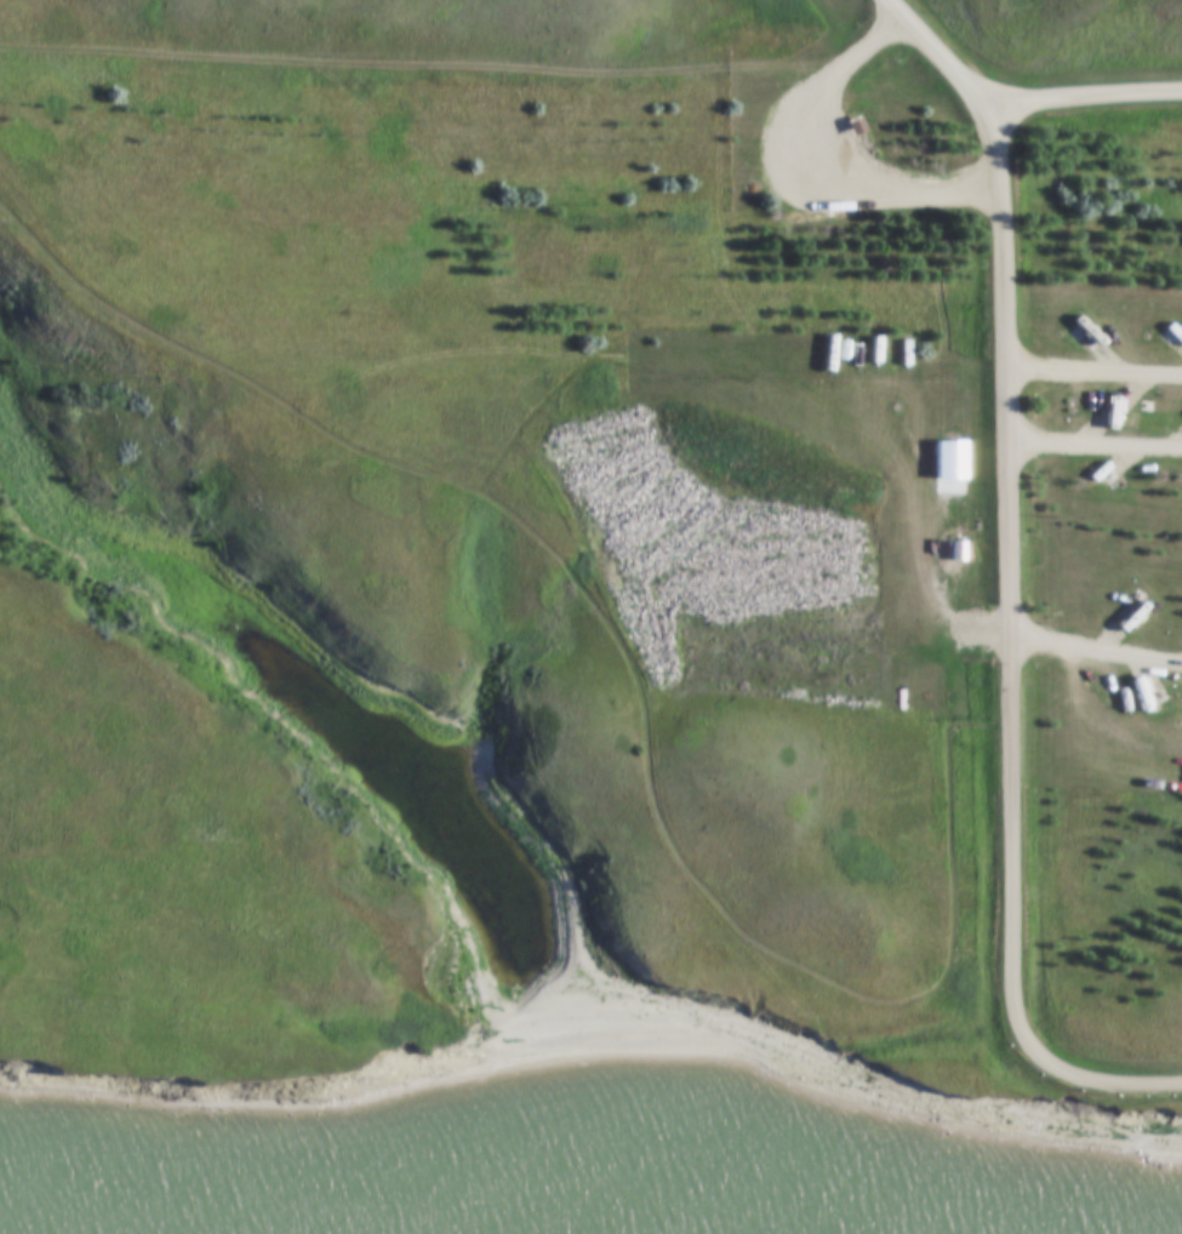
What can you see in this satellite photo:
road: (421, 65)
road: (1012, 113)
road: (827, 166)
building: (1094, 343)
road: (1095, 376)
building: (1113, 401)
road: (1095, 450)
building: (957, 552)
road: (1096, 655)
road: (1011, 665)

